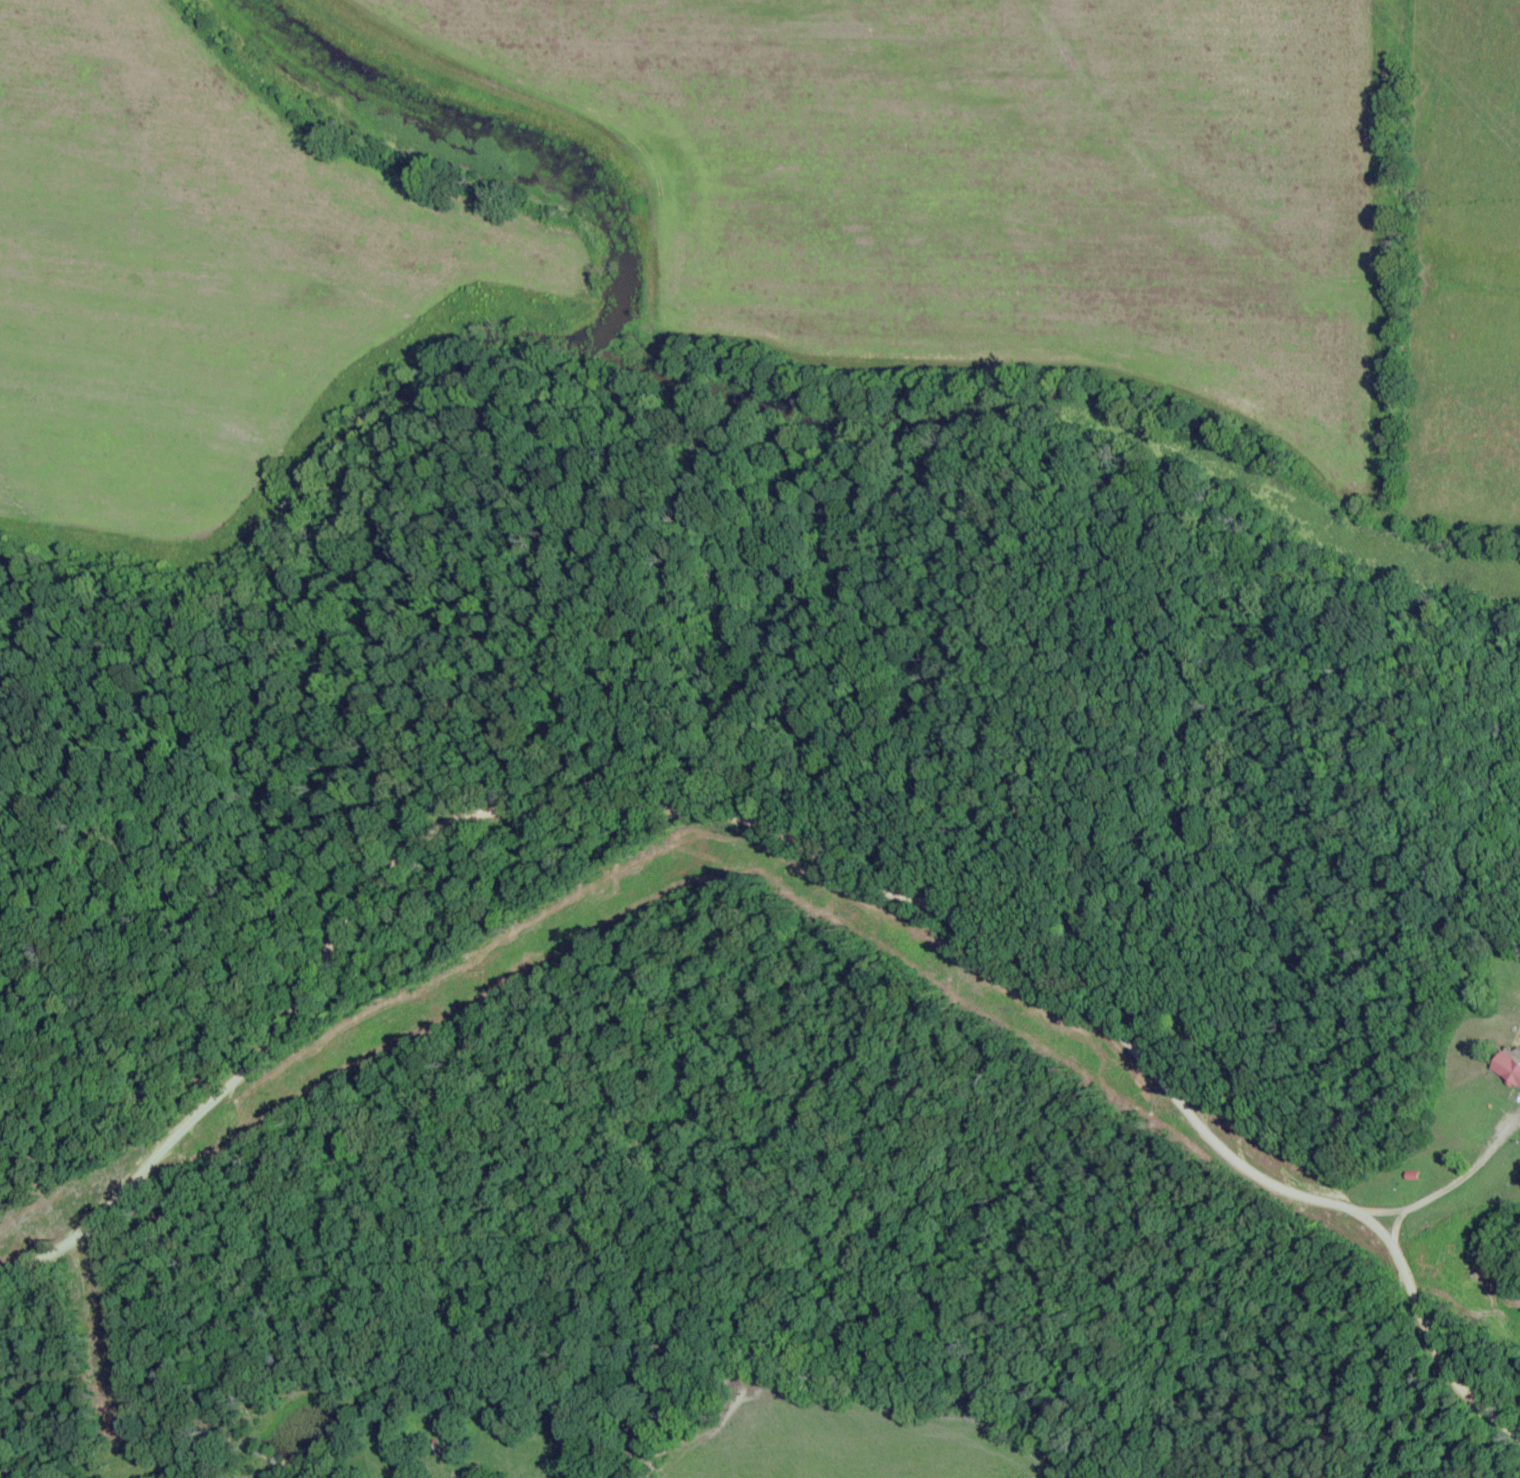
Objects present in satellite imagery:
road: (781, 836)
building: (1505, 1066)

